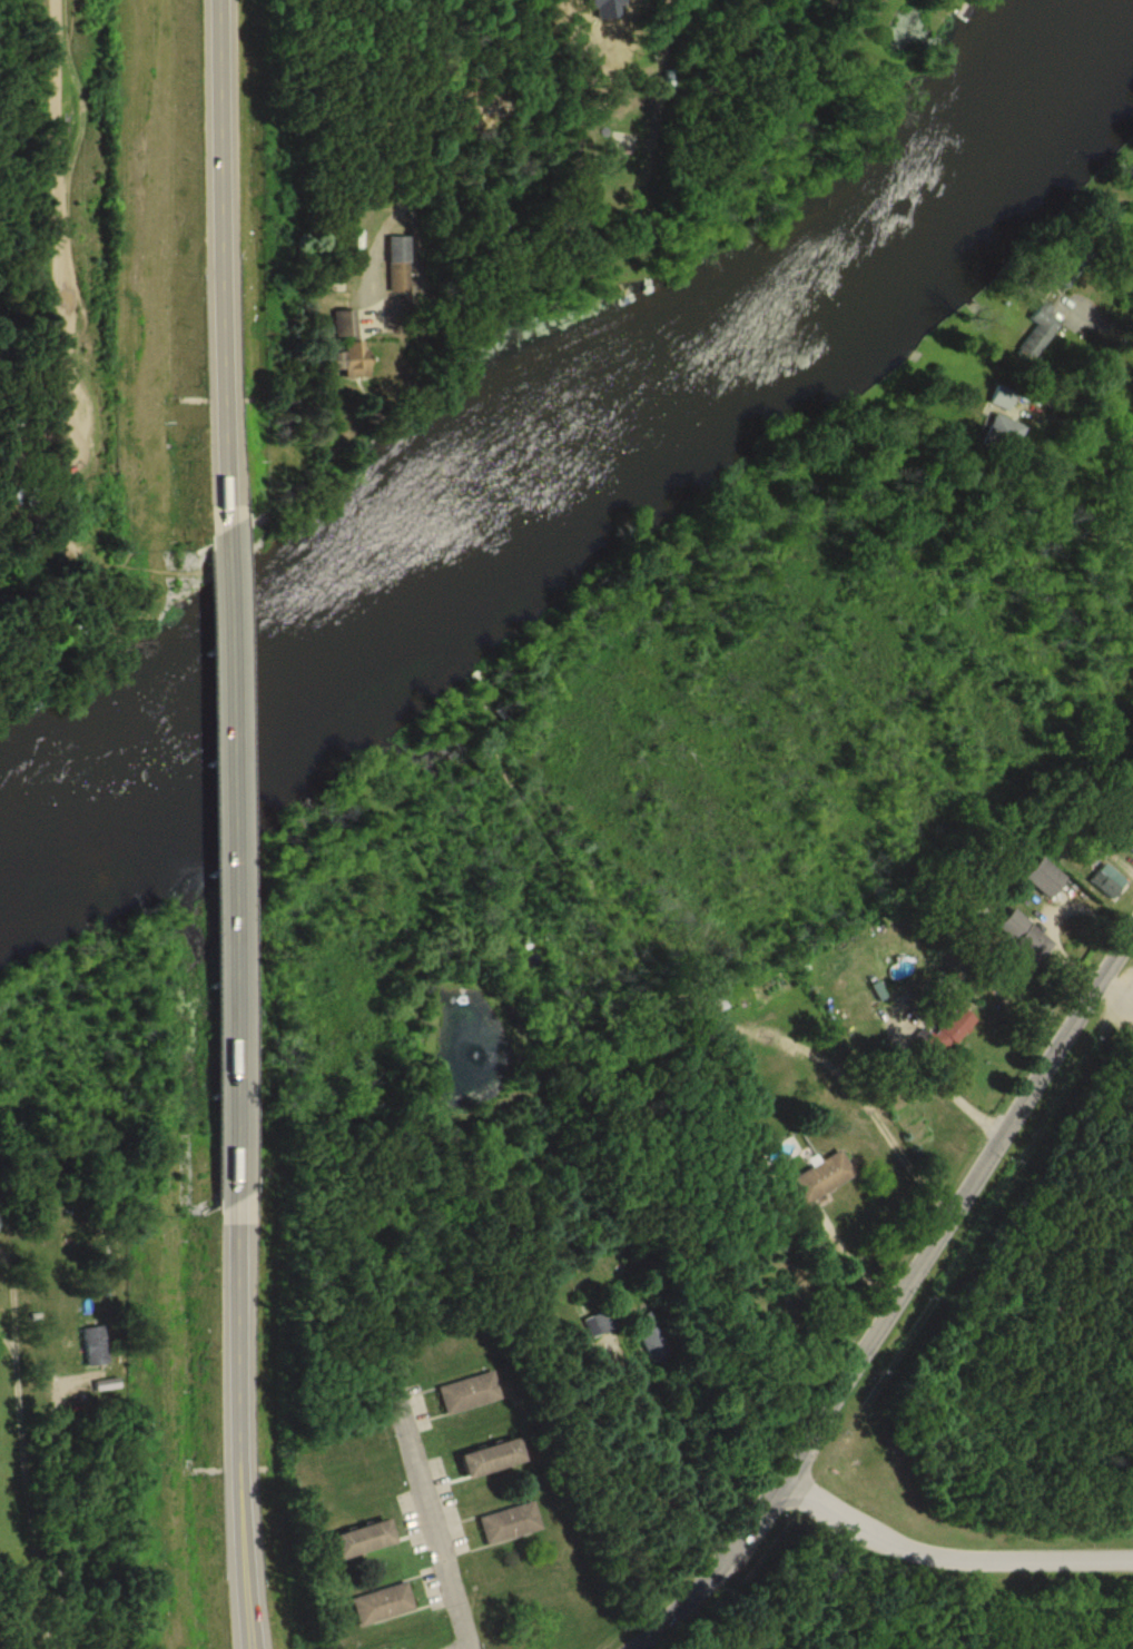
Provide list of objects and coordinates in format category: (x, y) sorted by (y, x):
road: (410, 159)
road: (225, 261)
building: (1070, 264)
building: (398, 265)
building: (345, 325)
building: (1038, 333)
building: (351, 359)
building: (1003, 397)
road: (1083, 412)
building: (1004, 435)
river: (579, 452)
building: (99, 556)
road: (230, 728)
building: (1124, 832)
building: (1044, 879)
building: (1106, 882)
building: (1019, 934)
building: (947, 1033)
road: (953, 1095)
building: (820, 1178)
road: (846, 1266)
building: (167, 1285)
road: (235, 1290)
road: (6, 1302)
road: (897, 1302)
building: (597, 1323)
building: (650, 1337)
building: (93, 1345)
building: (469, 1393)
building: (493, 1457)
road: (668, 1462)
road: (29, 1495)
road: (435, 1523)
building: (509, 1523)
building: (363, 1539)
road: (950, 1556)
building: (382, 1604)

